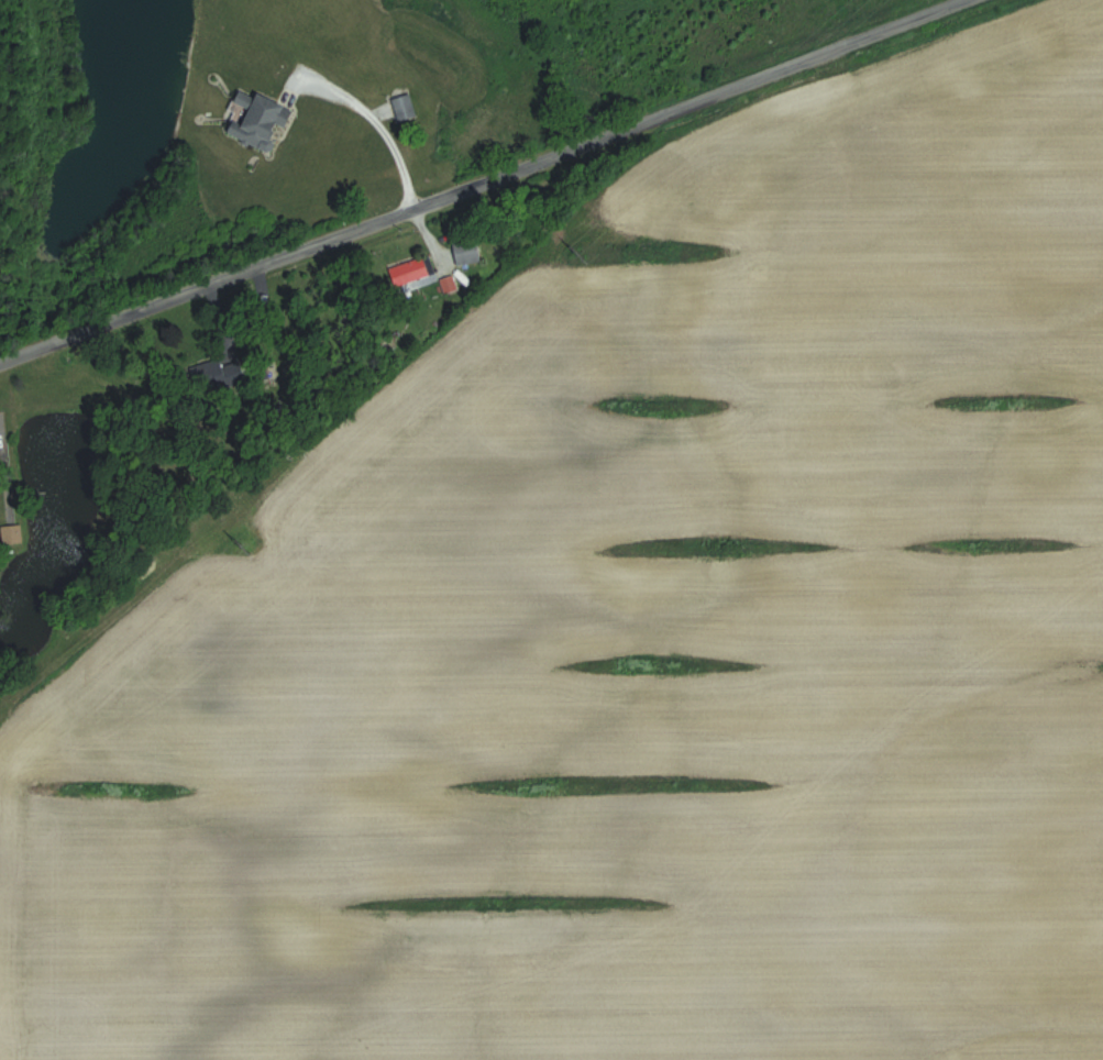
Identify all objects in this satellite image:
park: (661, 53)
building: (405, 107)
building: (261, 120)
road: (366, 122)
road: (482, 179)
building: (468, 252)
building: (413, 276)
building: (11, 534)

